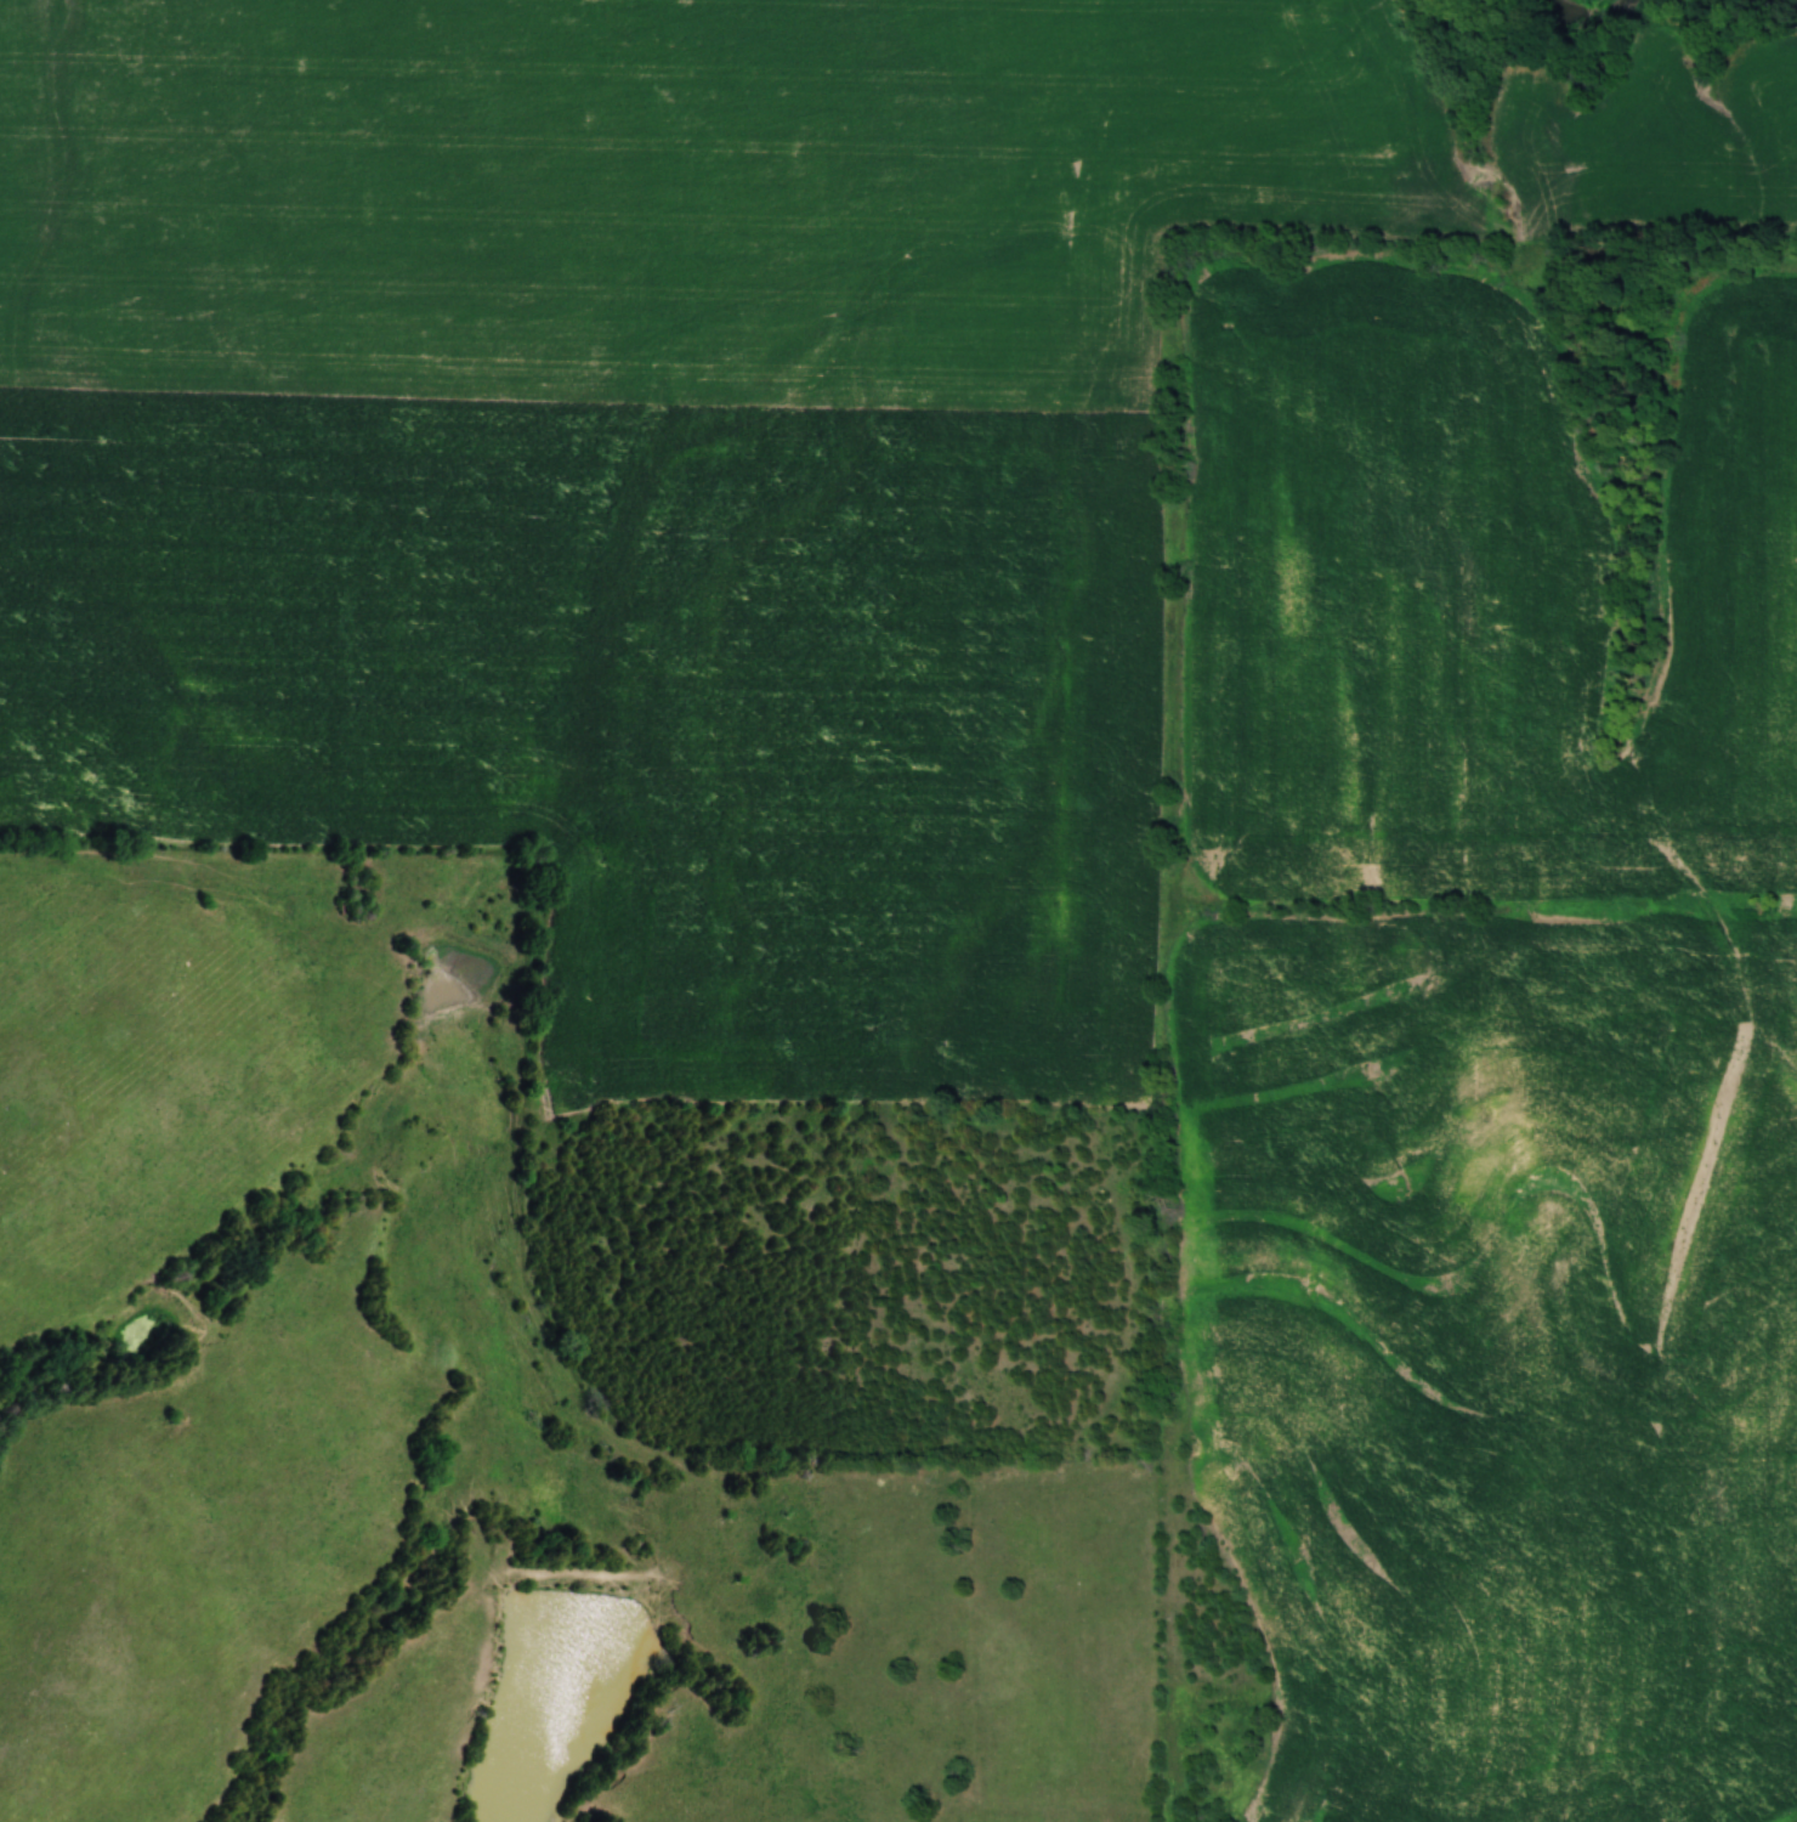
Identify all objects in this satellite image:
river: (1769, 7)
river: (1612, 11)

